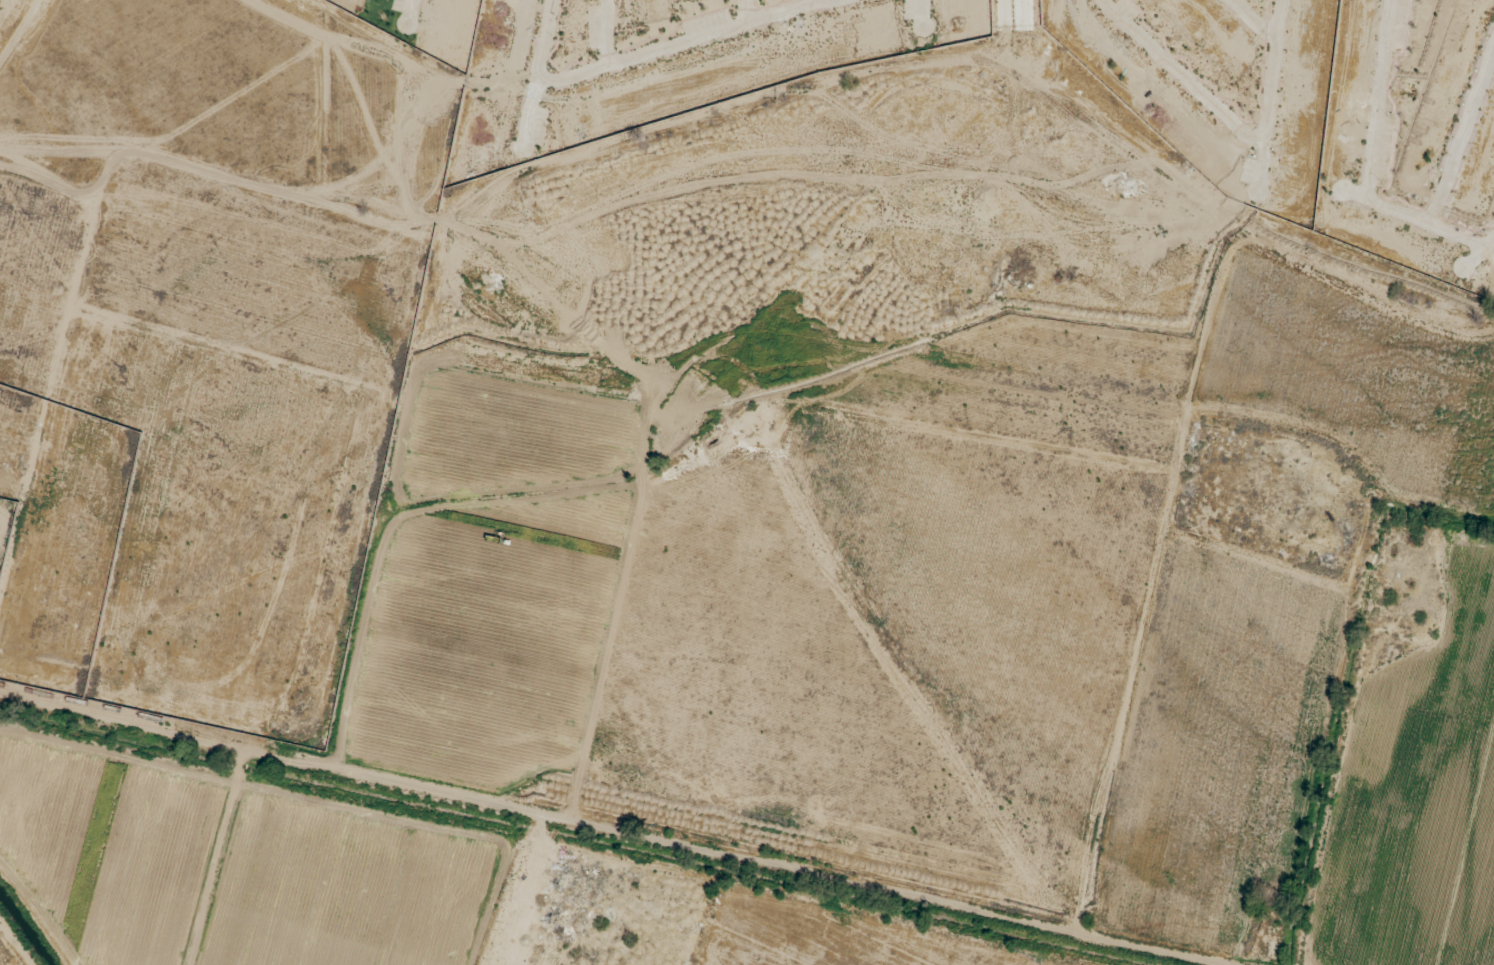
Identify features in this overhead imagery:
road: (1227, 122)
road: (1372, 132)
road: (1460, 135)
road: (1460, 240)
road: (601, 825)

